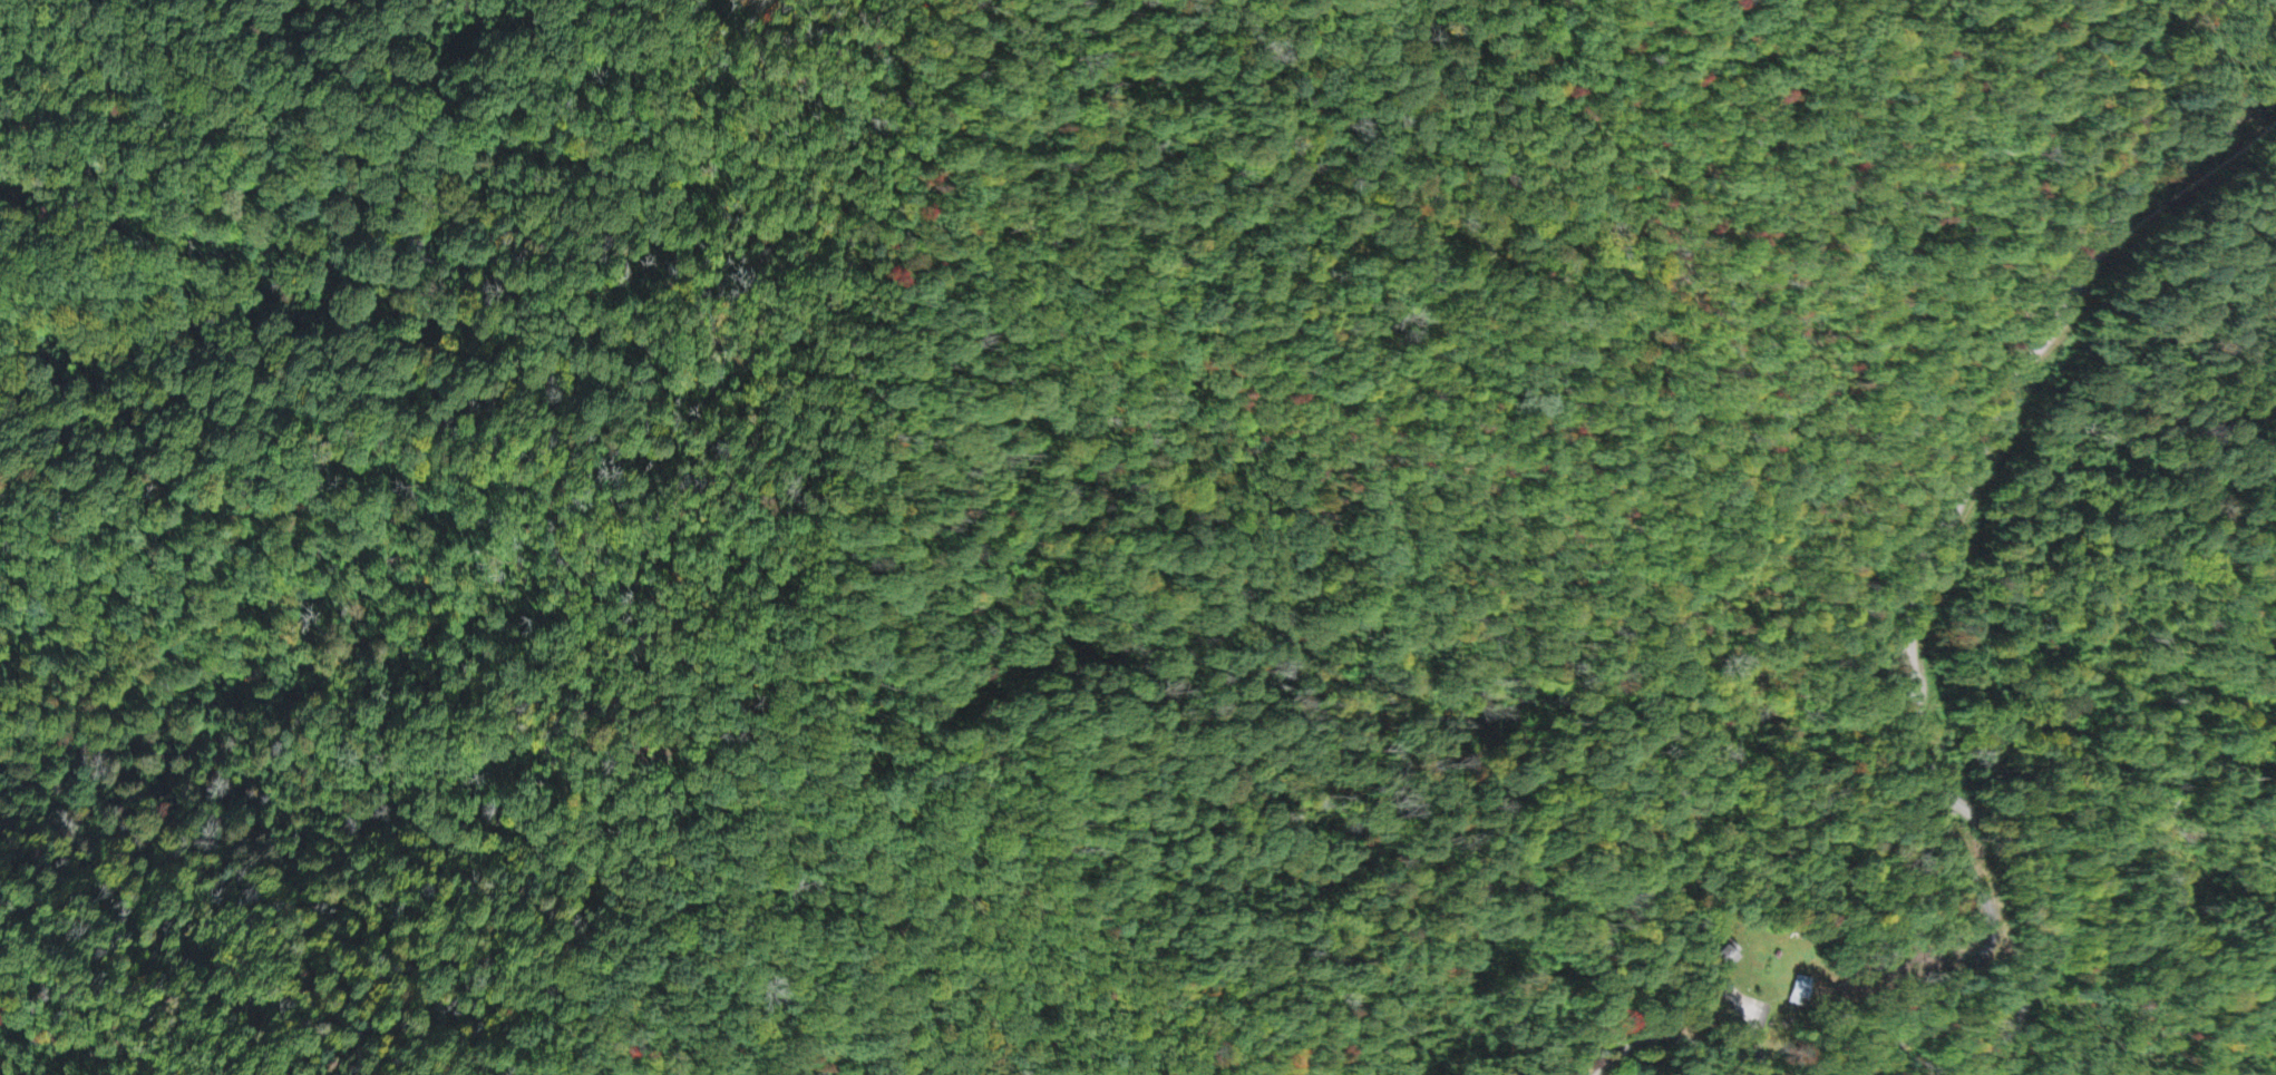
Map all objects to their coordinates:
road: (1946, 541)
building: (1801, 989)

